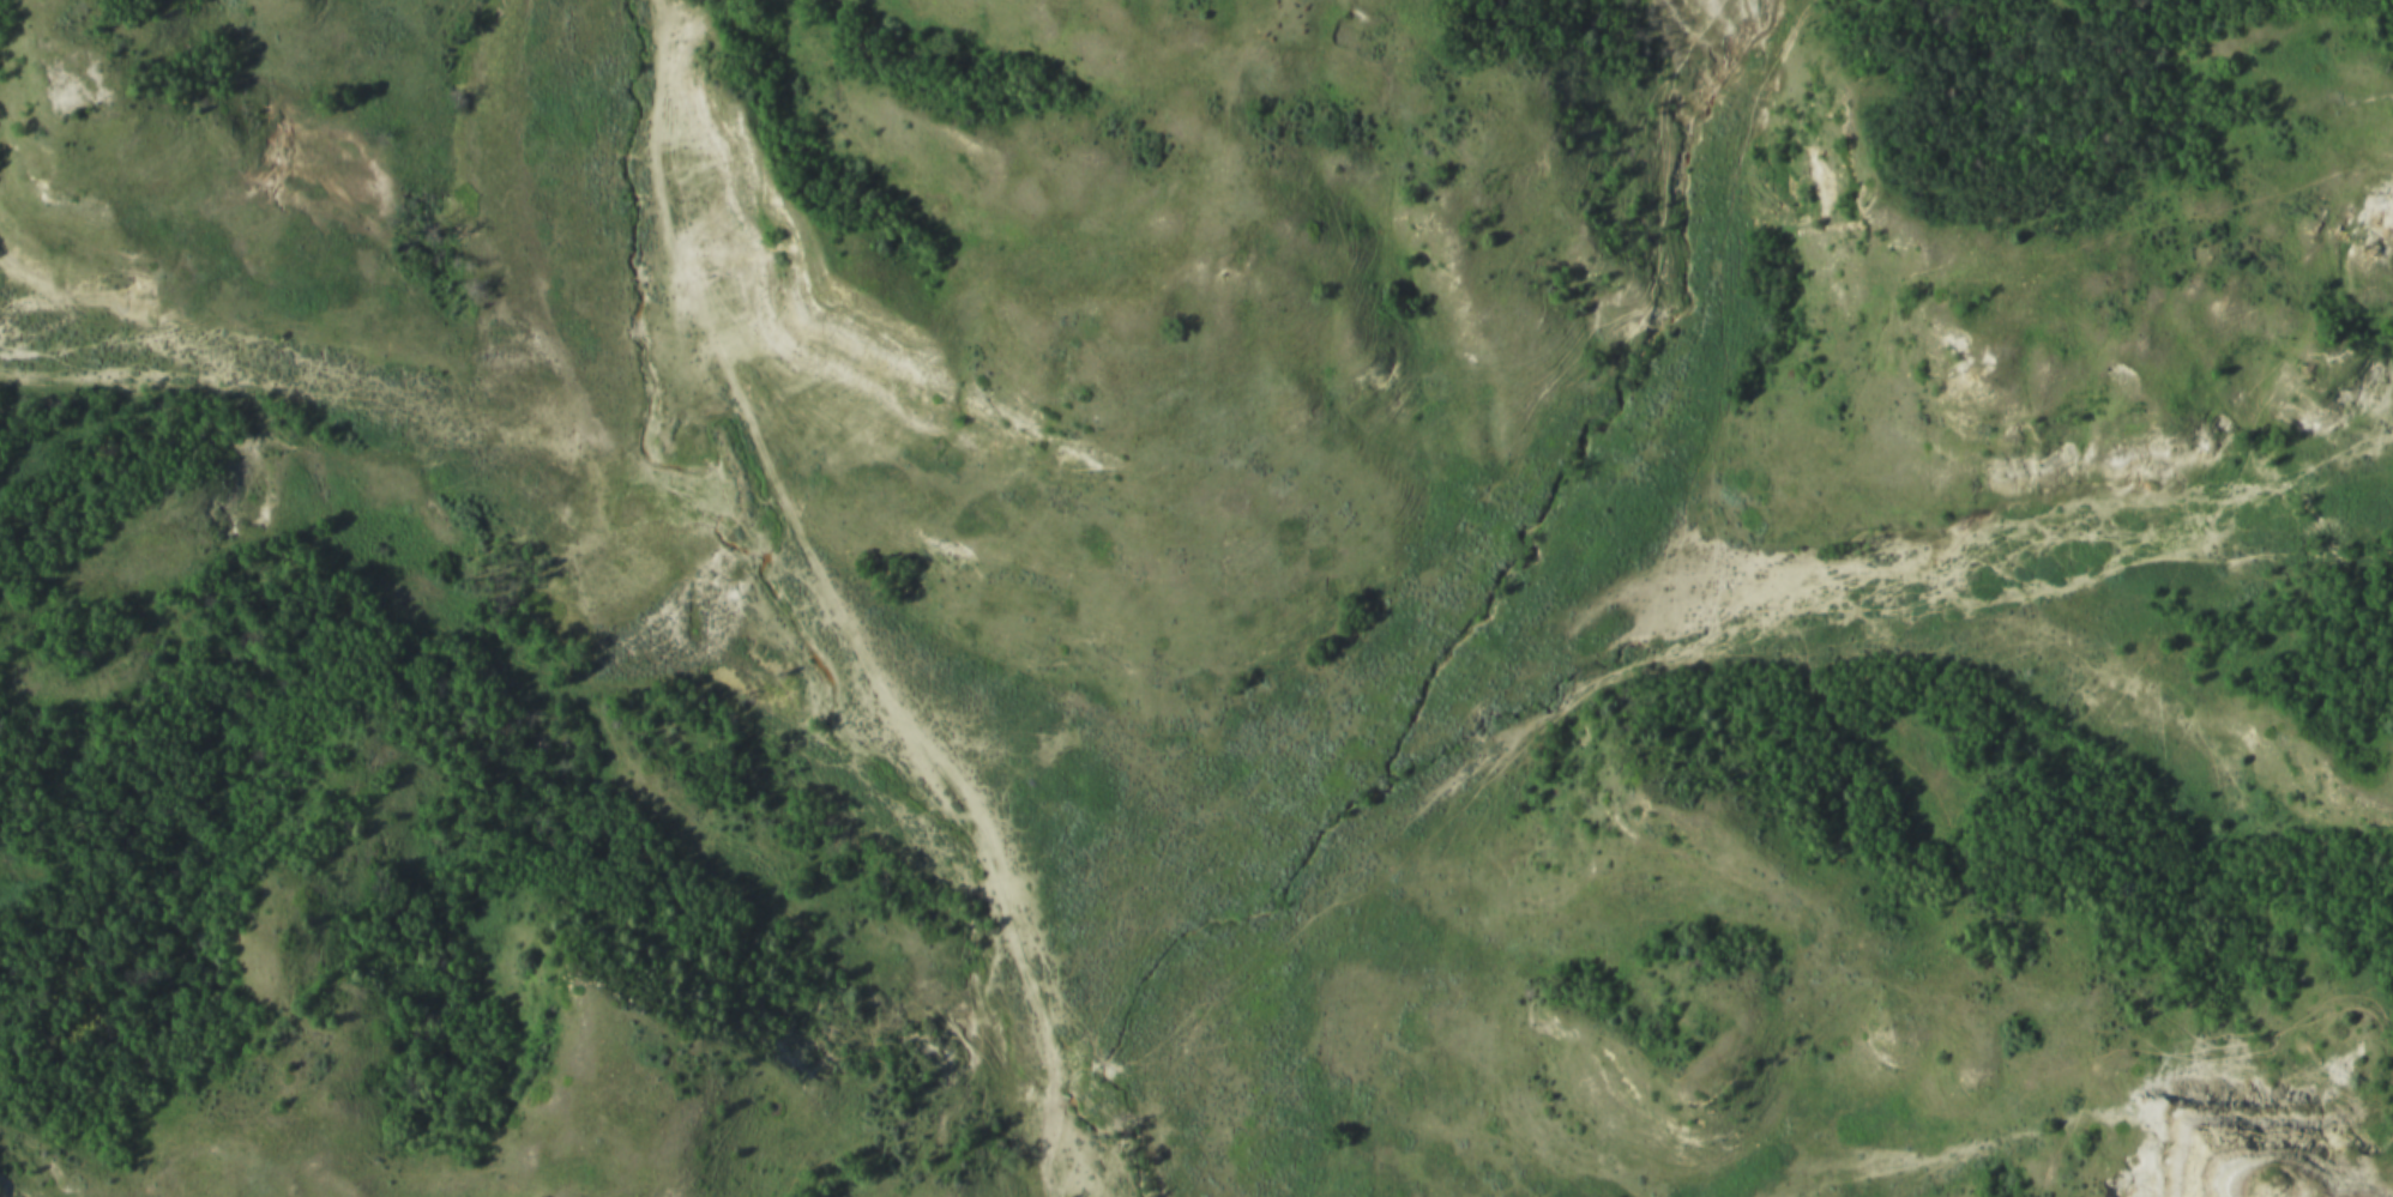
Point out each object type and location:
road: (843, 606)
road: (1494, 689)

